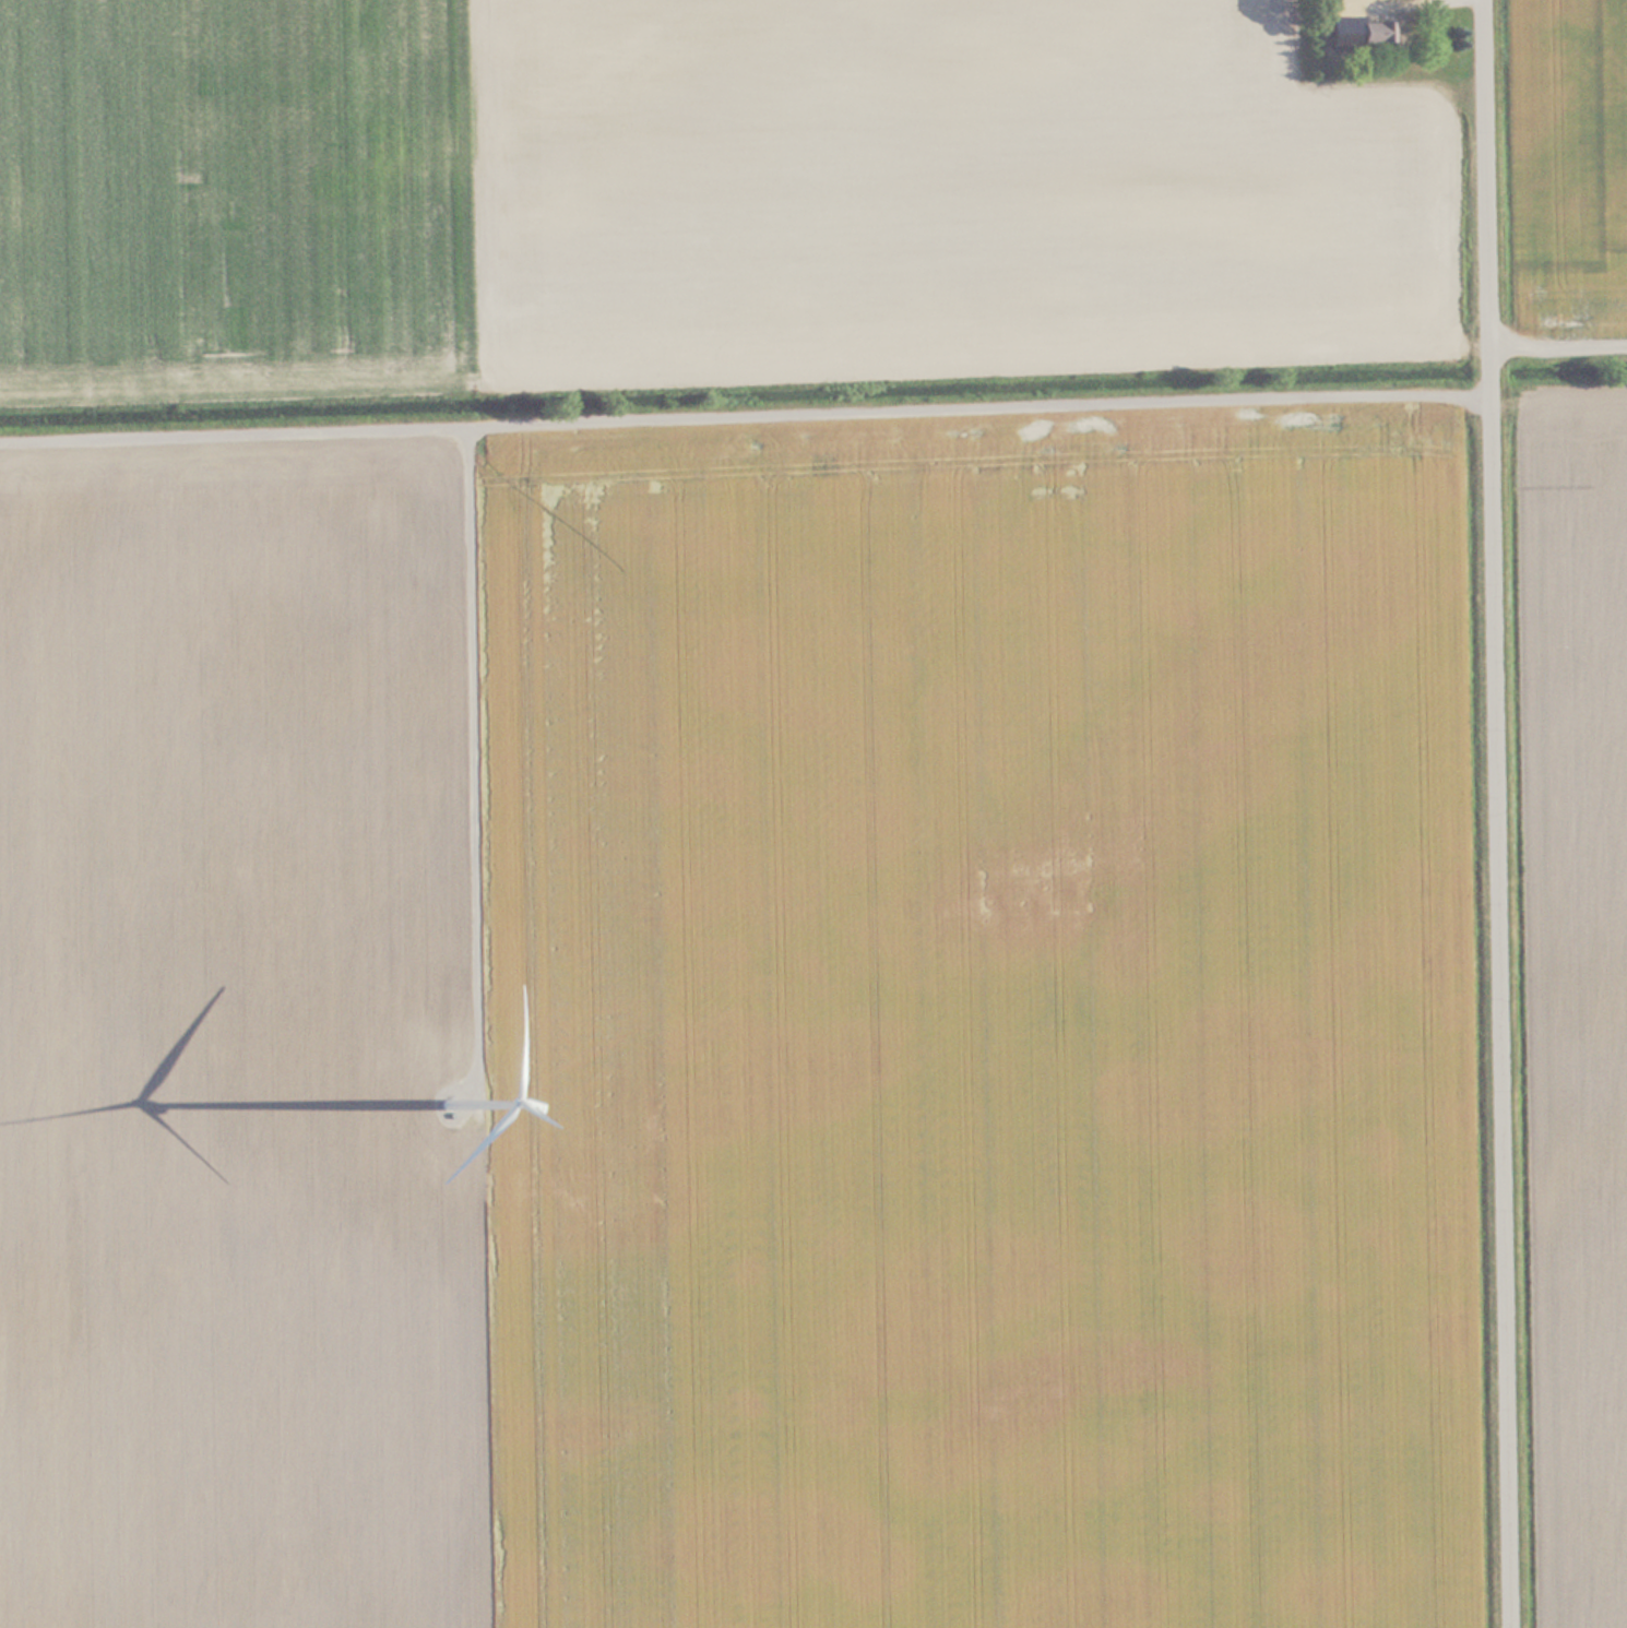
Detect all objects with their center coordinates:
building: (1364, 22)
road: (1560, 333)
road: (747, 406)
road: (471, 680)
road: (1503, 813)
wind turbine: (463, 1079)

